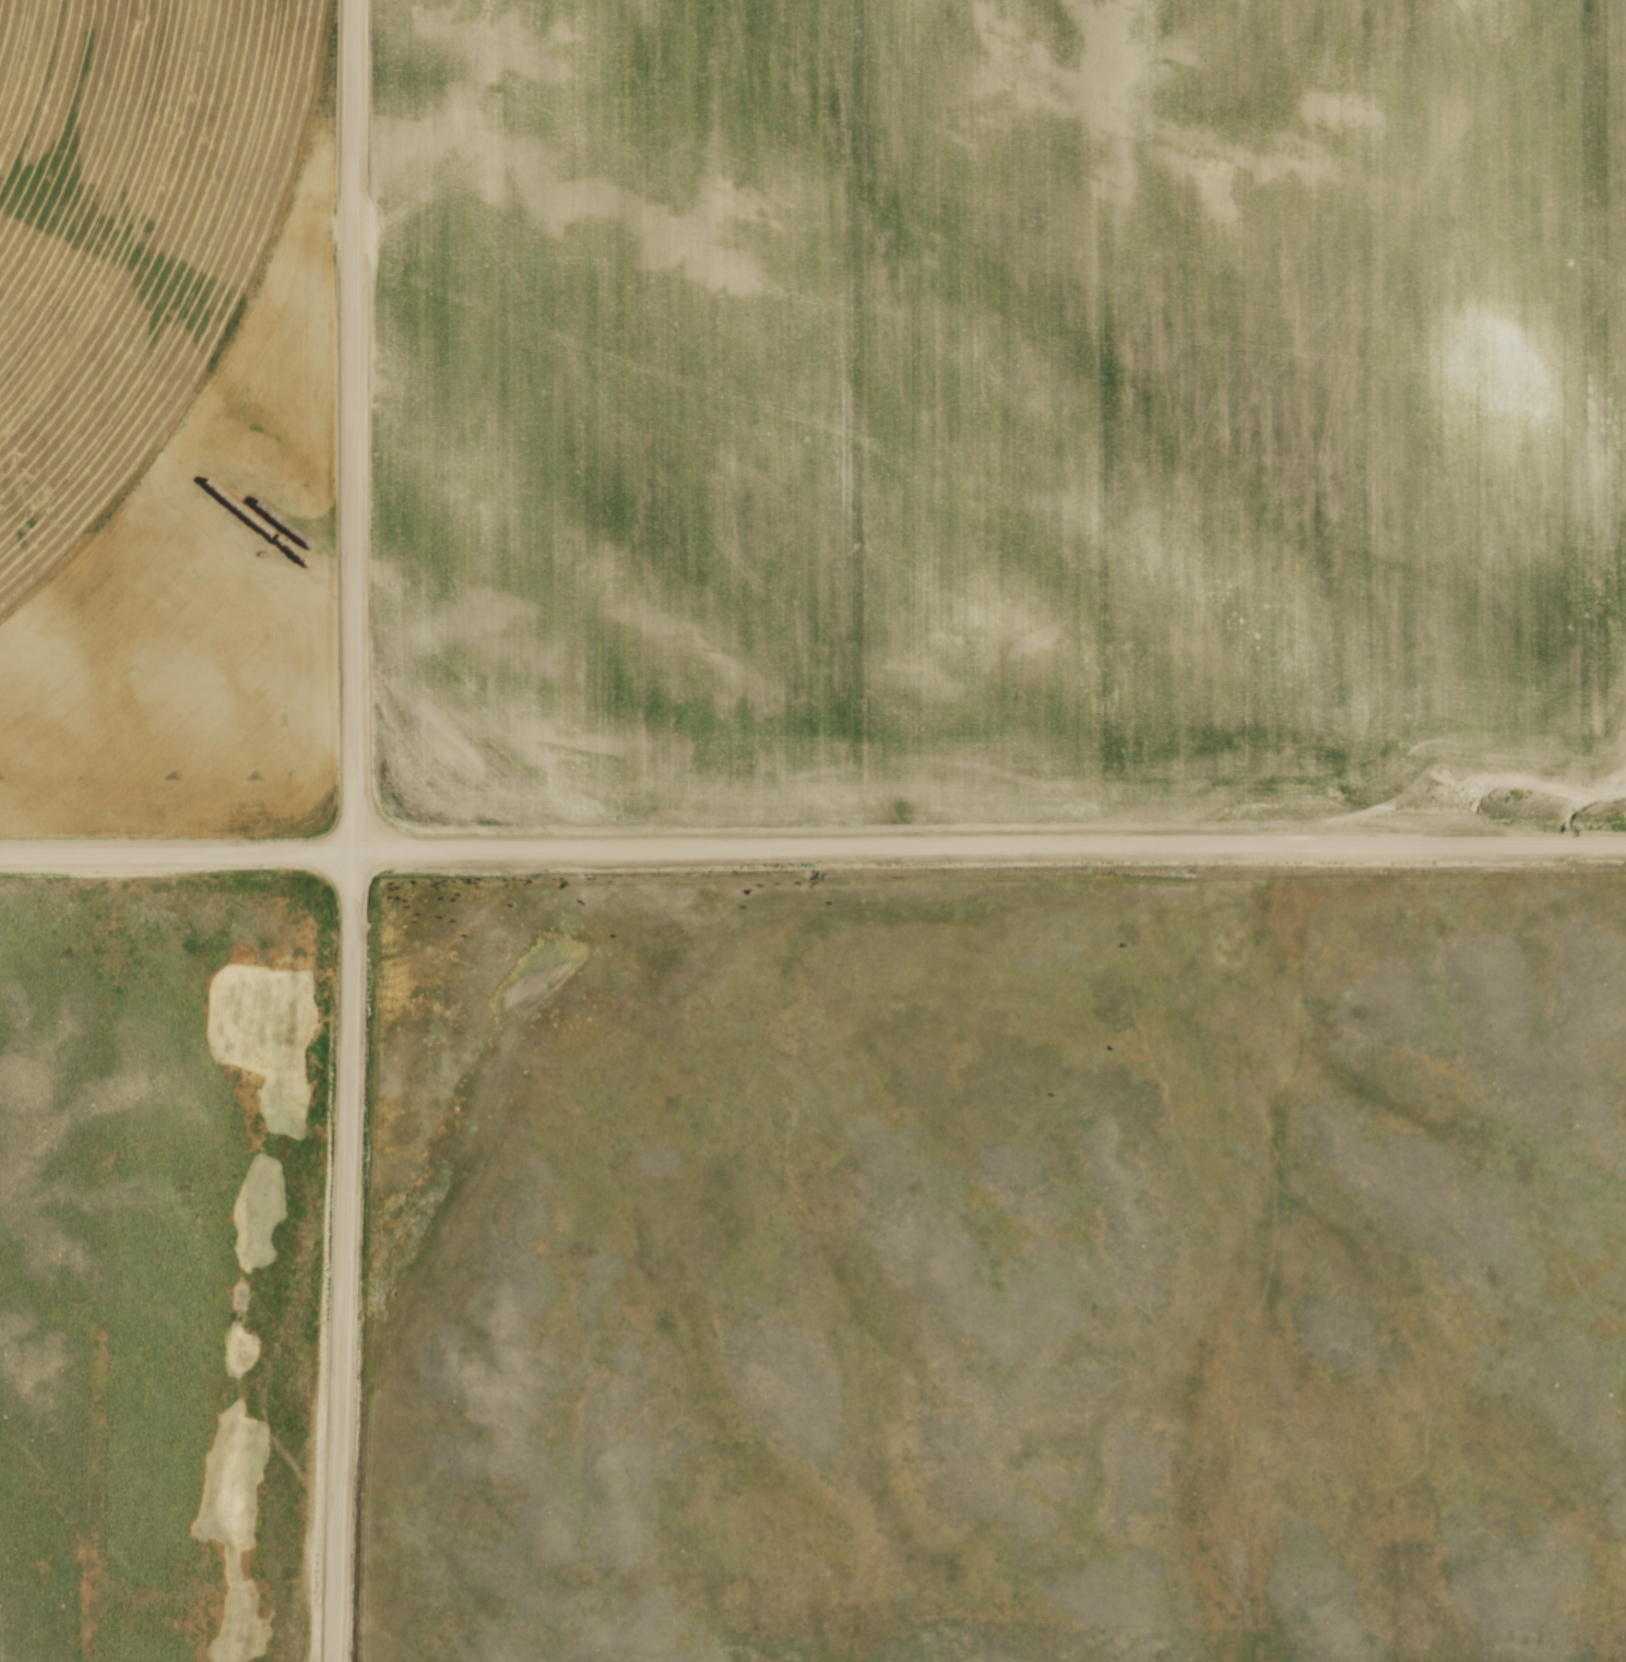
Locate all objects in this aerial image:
road: (354, 831)
road: (812, 844)

